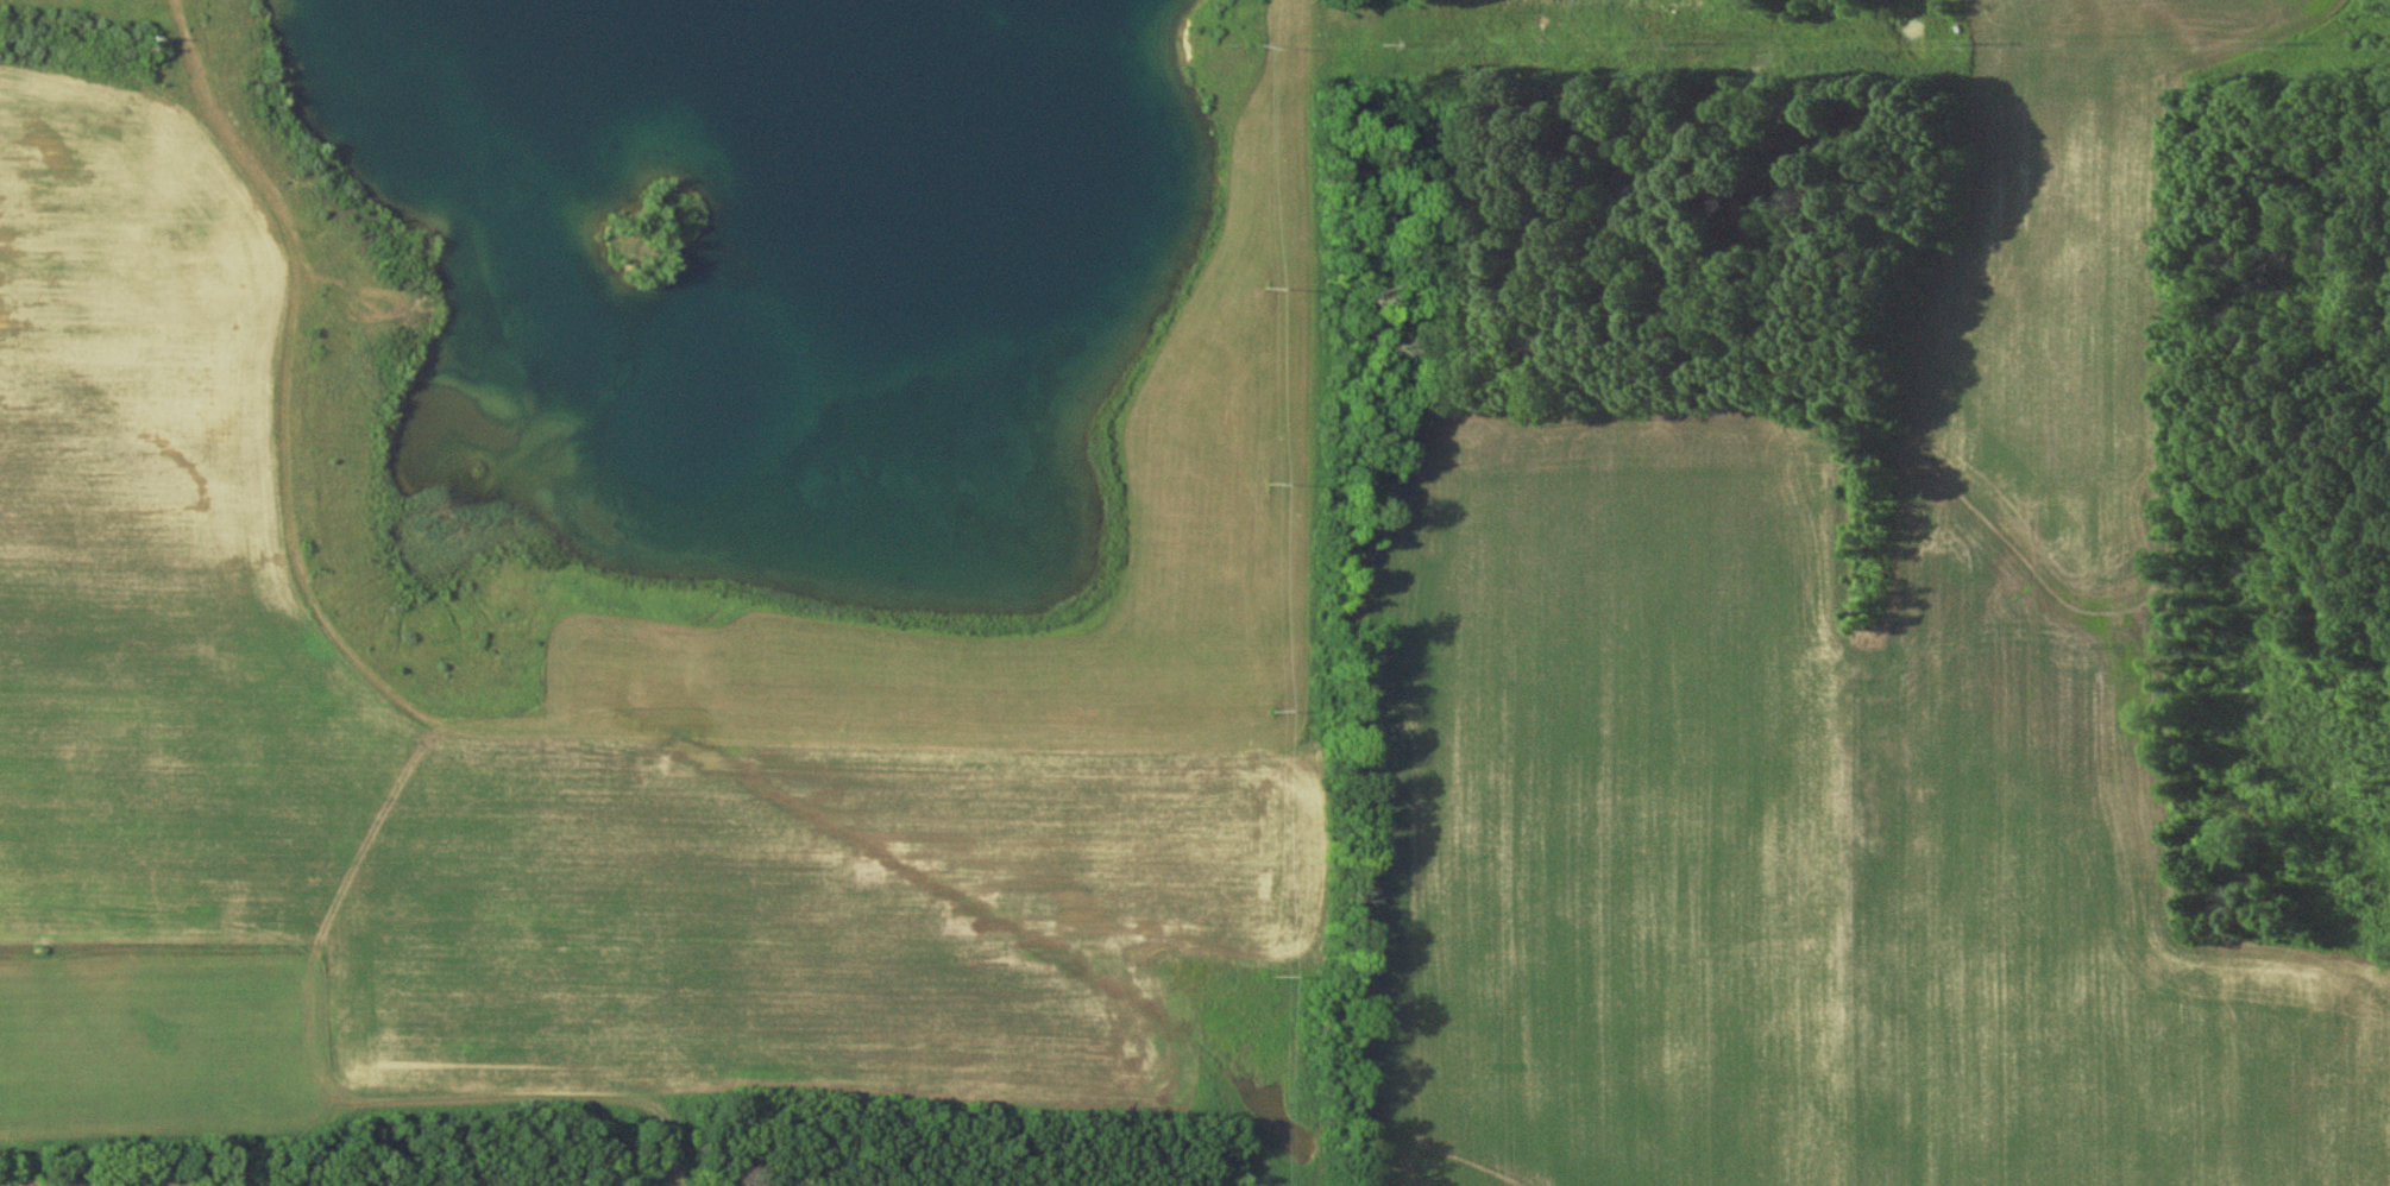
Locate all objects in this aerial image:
road: (19, 159)

